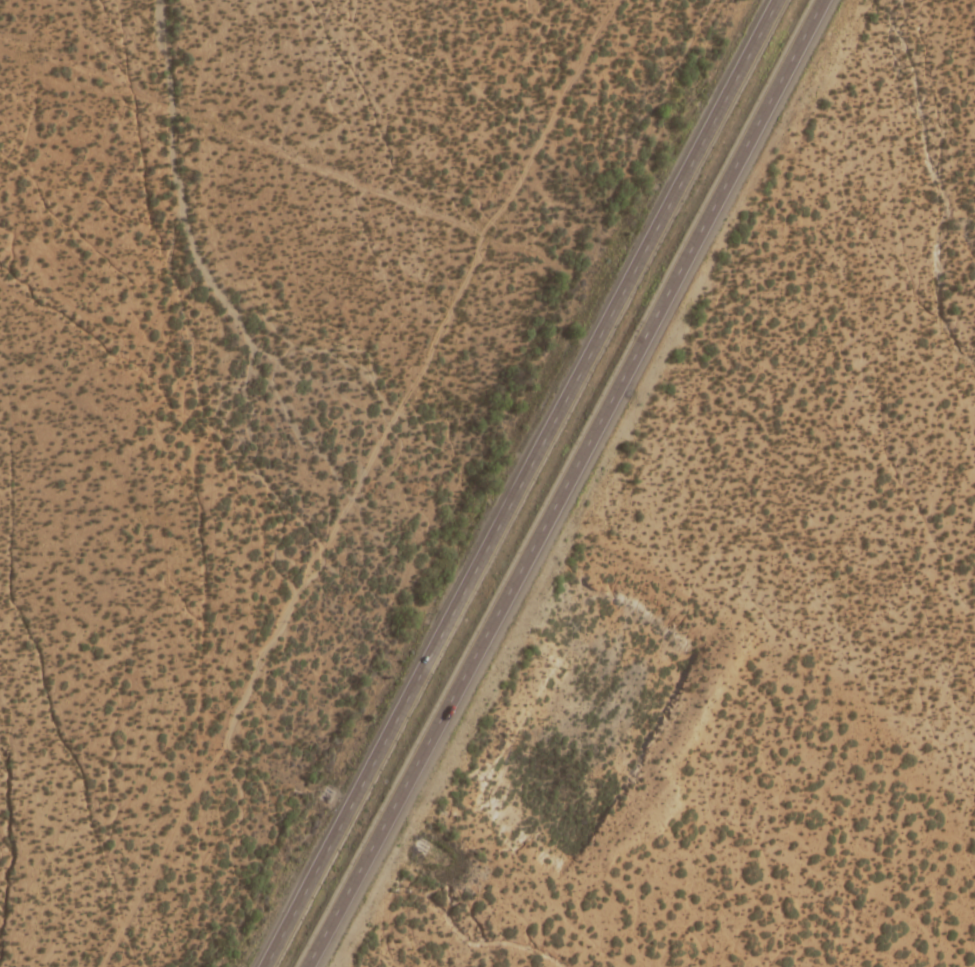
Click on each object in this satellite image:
road: (234, 138)
road: (347, 483)
road: (523, 484)
road: (576, 487)

